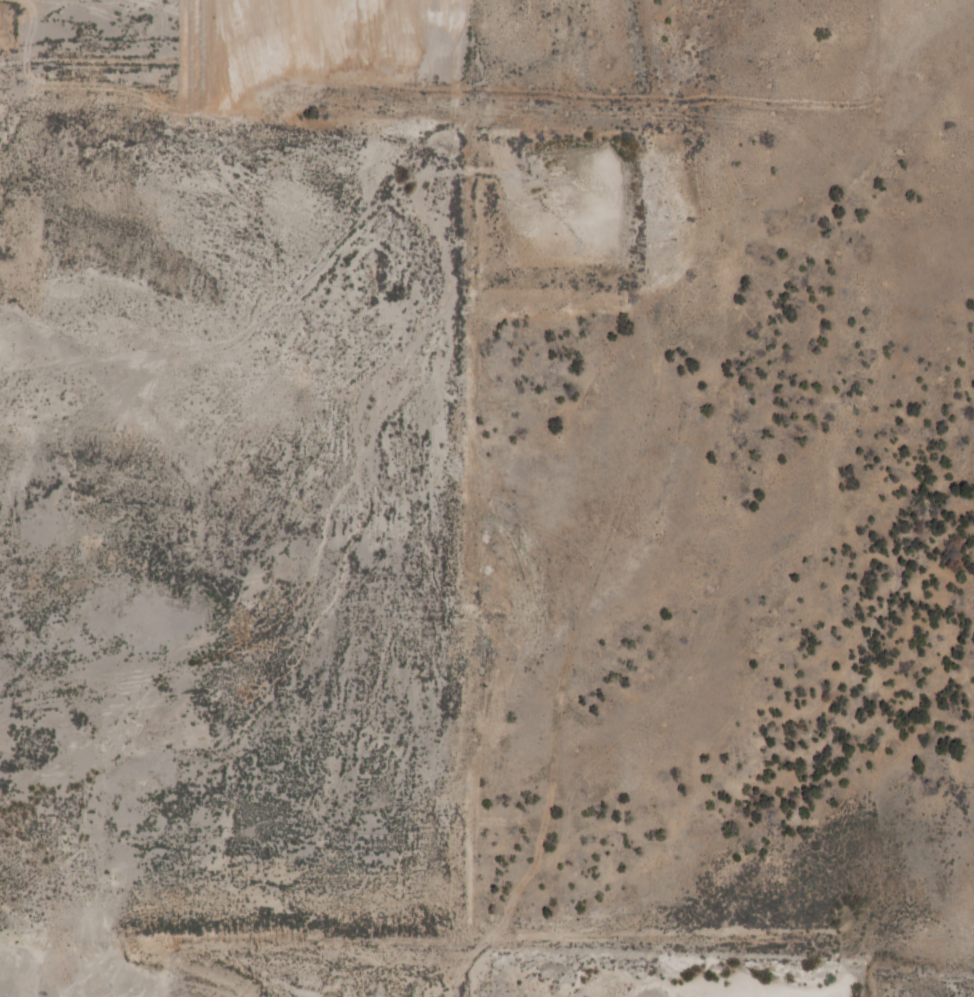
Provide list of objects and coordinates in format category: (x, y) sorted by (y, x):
road: (487, 954)

